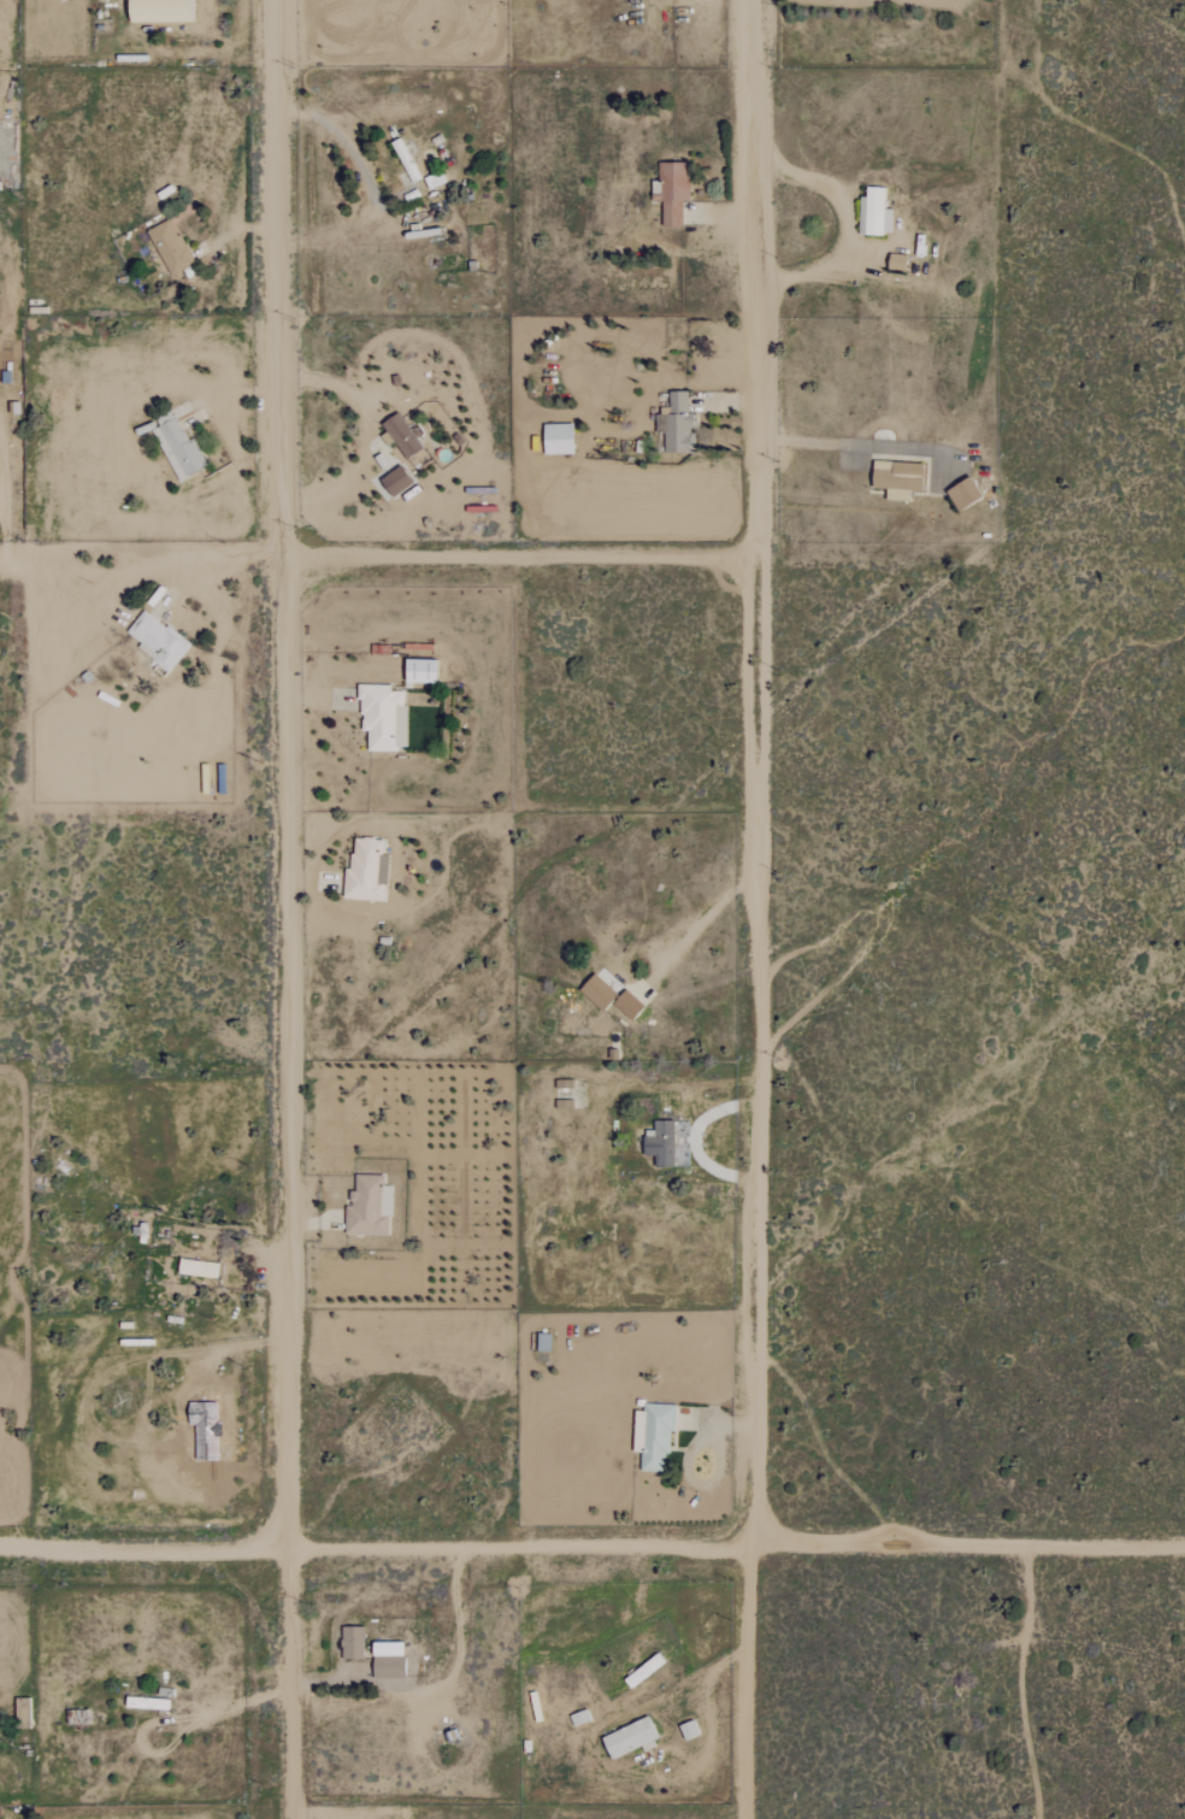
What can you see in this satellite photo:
building: (157, 11)
road: (347, 148)
building: (409, 169)
building: (873, 213)
building: (169, 247)
building: (677, 423)
building: (400, 435)
building: (558, 438)
road: (815, 442)
building: (177, 448)
building: (395, 482)
building: (962, 494)
road: (379, 555)
building: (155, 640)
building: (418, 671)
building: (382, 717)
building: (365, 871)
road: (289, 908)
road: (764, 909)
road: (707, 913)
building: (596, 991)
building: (627, 1005)
building: (659, 1144)
building: (366, 1207)
building: (655, 1436)
road: (591, 1548)
building: (350, 1642)
building: (385, 1648)
road: (435, 1686)
building: (146, 1702)
road: (169, 1719)
building: (629, 1738)

